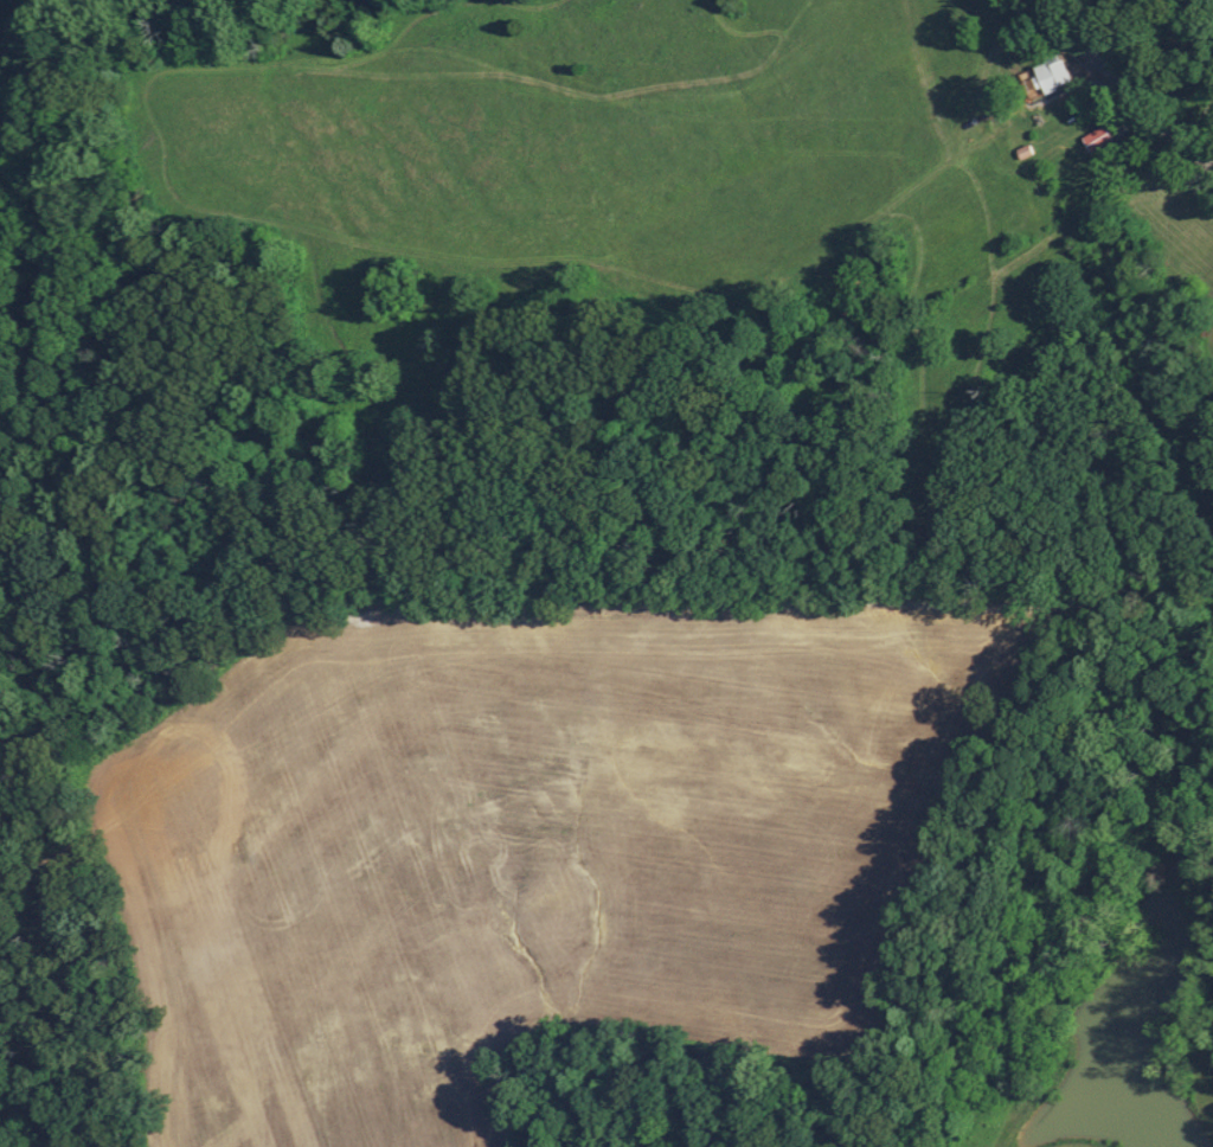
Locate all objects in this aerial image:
building: (1047, 71)
road: (1122, 83)
building: (1098, 137)

